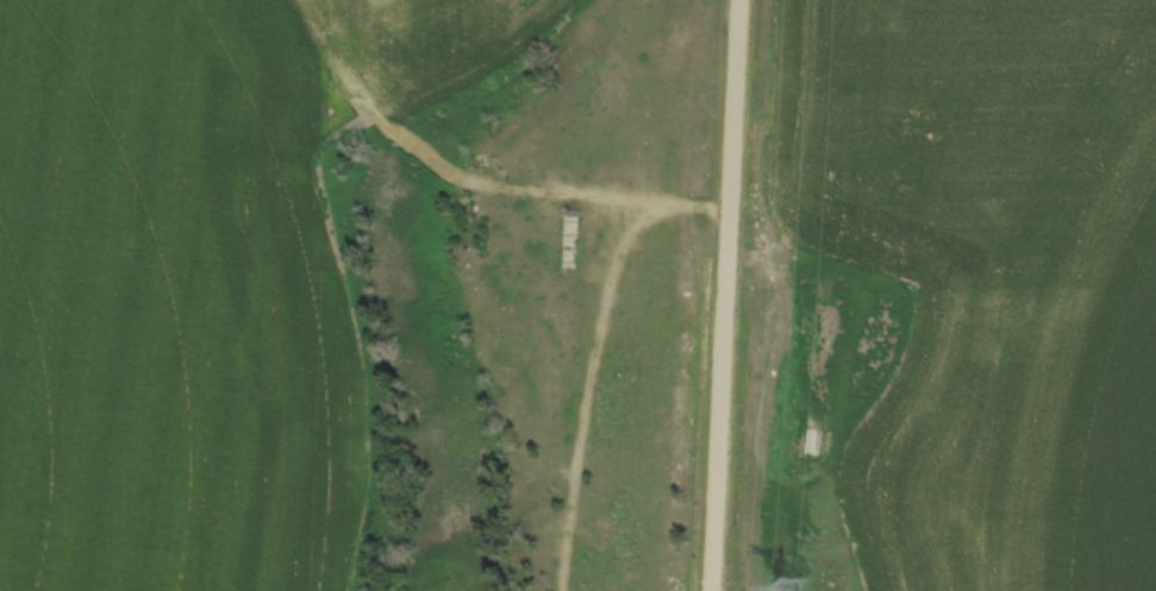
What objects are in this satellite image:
road: (723, 295)
power tower: (796, 587)

